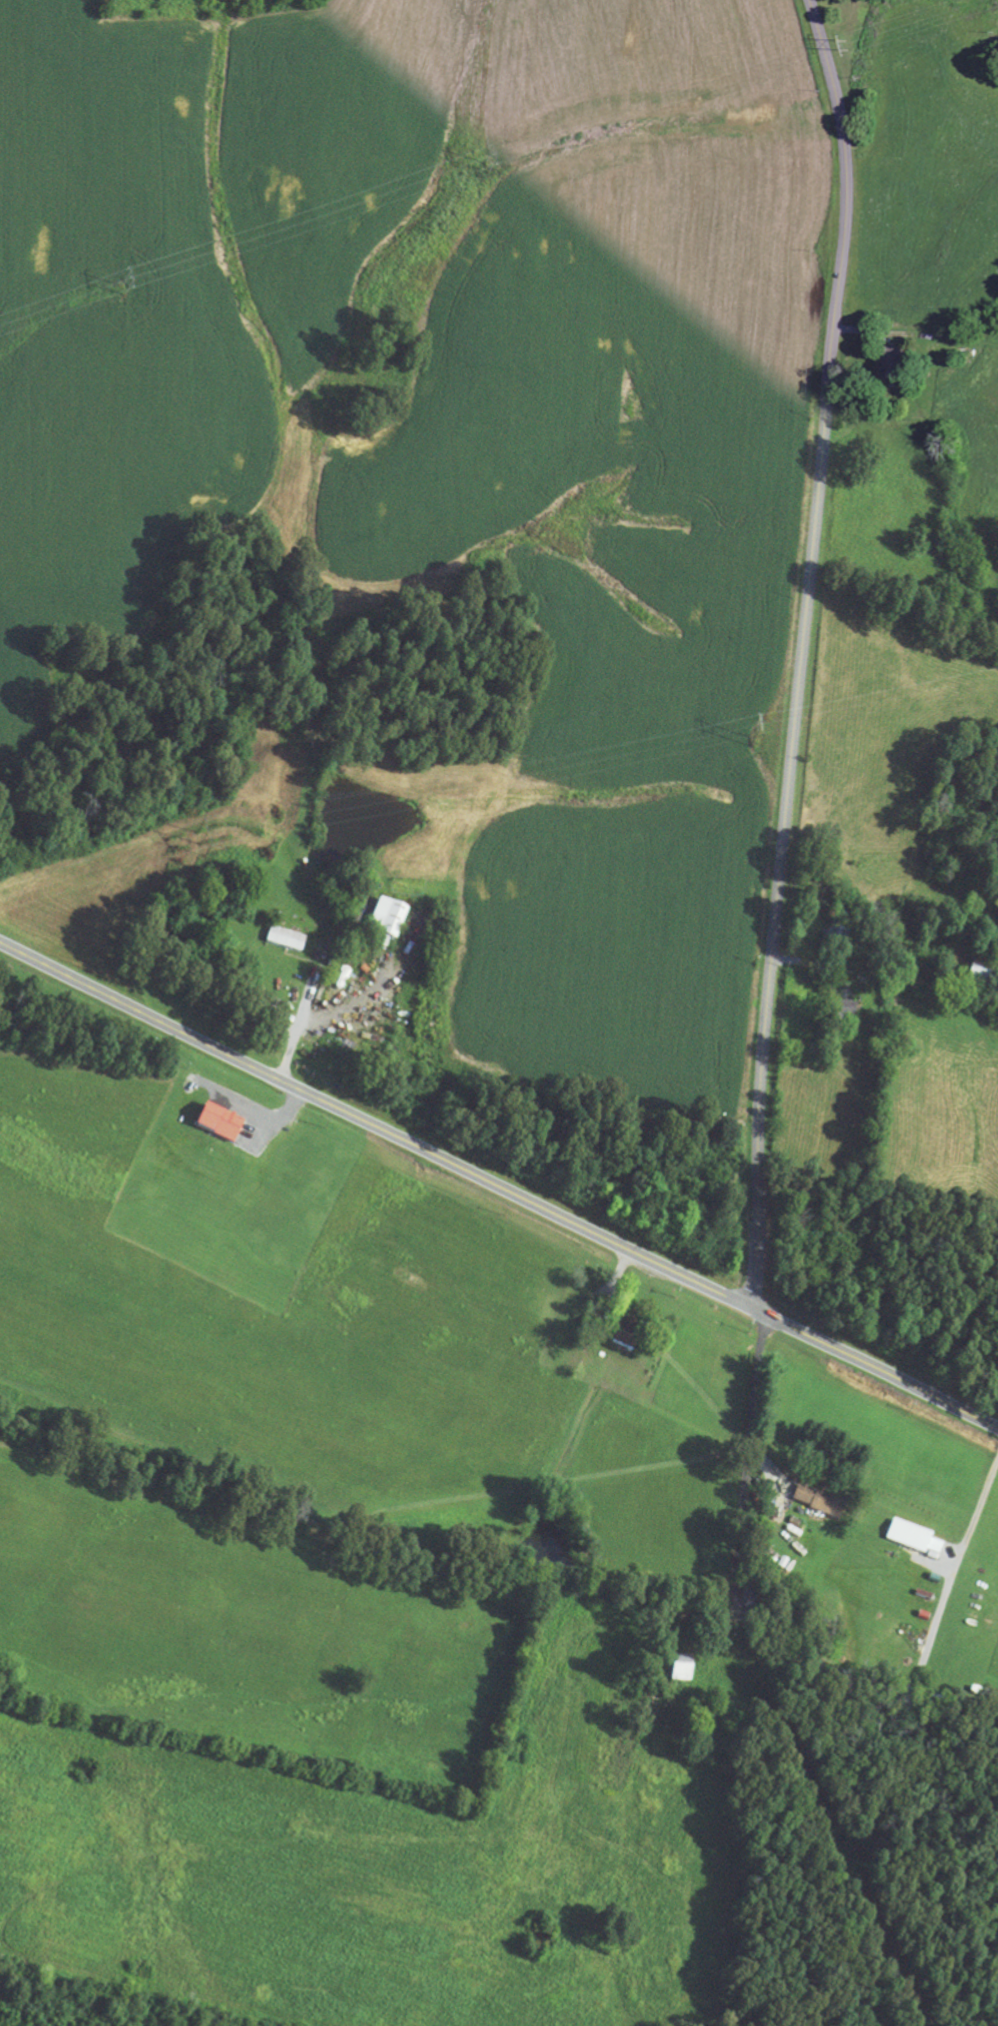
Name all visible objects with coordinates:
building: (896, 364)
road: (802, 652)
building: (393, 924)
building: (284, 942)
building: (832, 946)
building: (979, 977)
building: (840, 1013)
building: (220, 1126)
road: (498, 1187)
building: (628, 1337)
building: (819, 1504)
building: (909, 1540)
road: (741, 1606)
building: (682, 1671)

